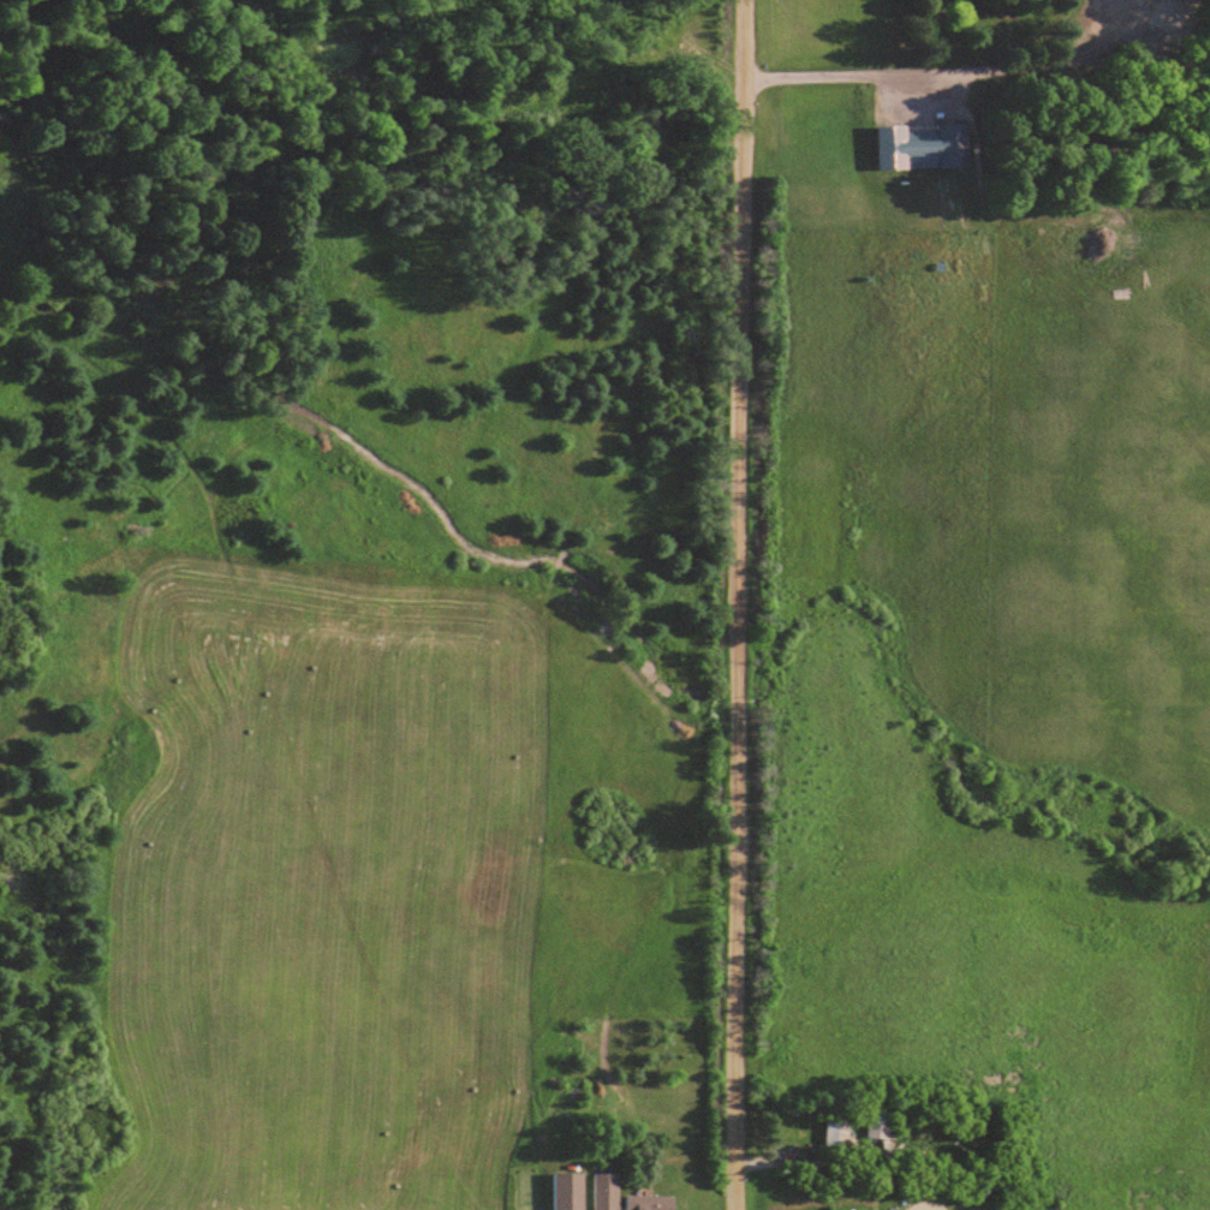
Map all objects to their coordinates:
building: (1146, 11)
road: (895, 76)
building: (924, 147)
road: (741, 604)
building: (881, 1127)
building: (838, 1132)
building: (568, 1191)
building: (606, 1191)
building: (651, 1203)
road: (924, 1204)
building: (890, 1209)

